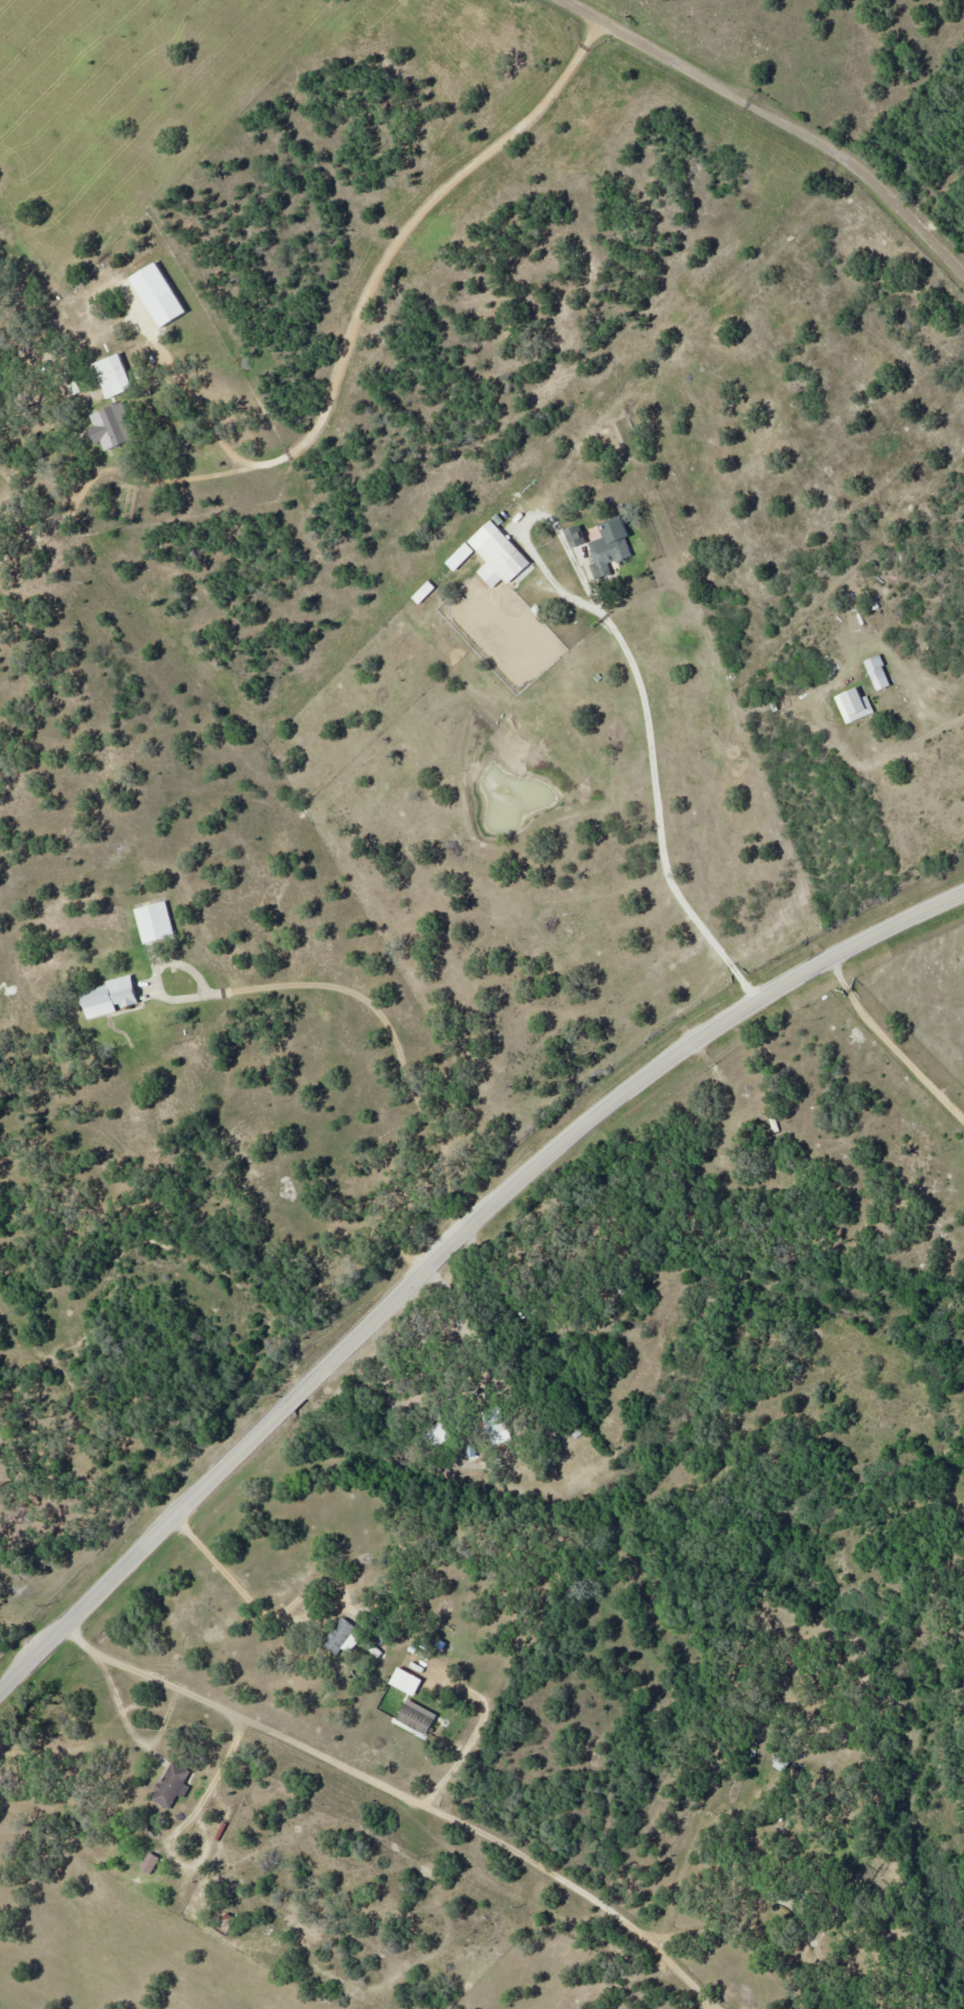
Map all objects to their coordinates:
road: (781, 117)
building: (115, 375)
building: (71, 382)
building: (160, 410)
building: (612, 553)
building: (502, 554)
building: (858, 703)
building: (156, 922)
building: (113, 996)
road: (892, 1038)
road: (451, 1247)
building: (499, 1429)
building: (437, 1433)
building: (341, 1635)
building: (417, 1718)
building: (782, 1763)
building: (173, 1785)
road: (407, 1789)
building: (151, 1862)

